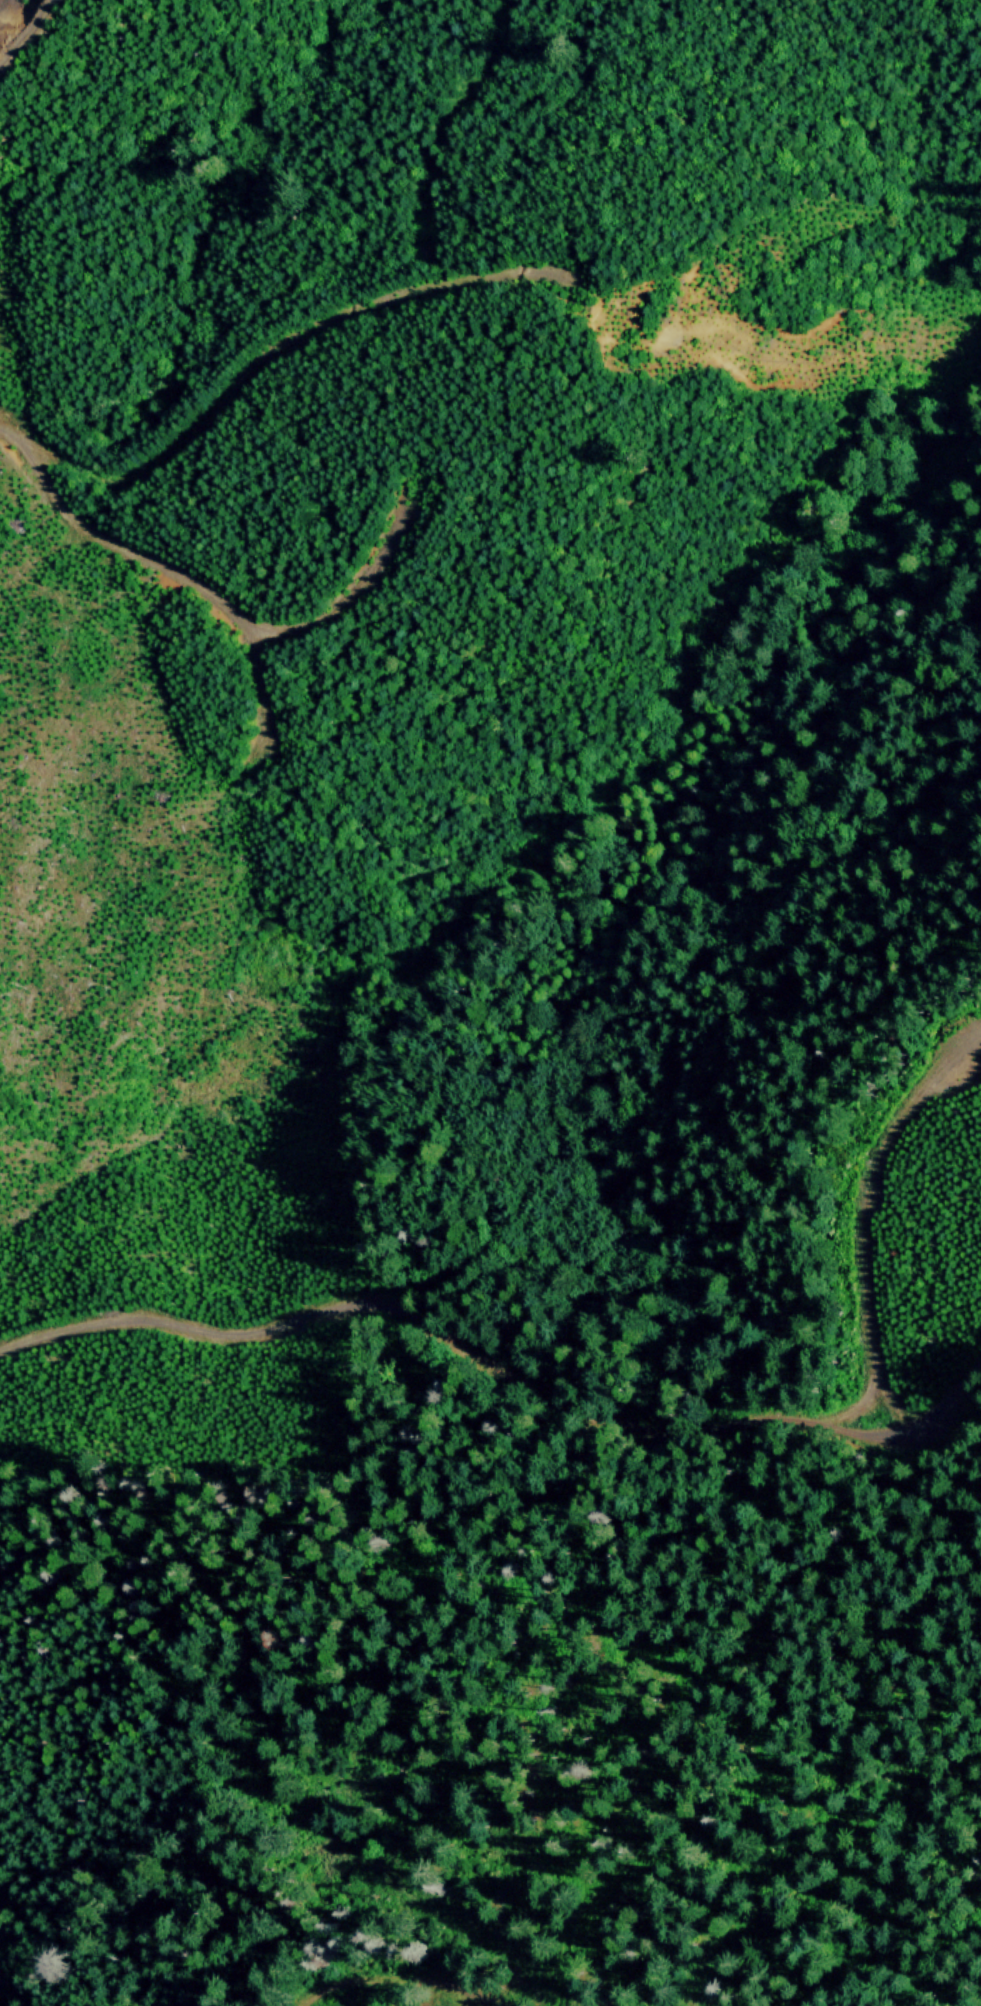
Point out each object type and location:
road: (498, 1370)
road: (444, 1978)
road: (0, 2004)

